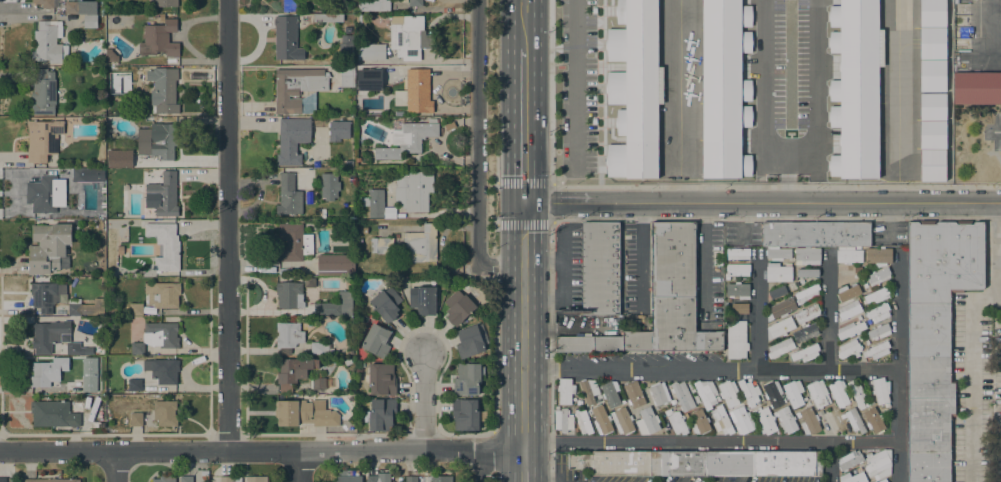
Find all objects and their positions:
building: (44, 3)
building: (415, 3)
building: (167, 4)
building: (286, 5)
building: (373, 5)
building: (71, 7)
airport hangar: (932, 13)
building: (932, 13)
building: (74, 17)
building: (327, 17)
building: (90, 21)
road: (522, 24)
building: (348, 30)
building: (409, 37)
building: (159, 38)
building: (286, 38)
building: (48, 41)
airport hangar: (932, 42)
building: (932, 42)
building: (345, 45)
building: (371, 52)
building: (110, 55)
building: (110, 71)
parking lot: (788, 71)
airport hangar: (932, 75)
building: (932, 75)
building: (347, 76)
building: (369, 79)
road: (766, 82)
road: (811, 84)
airport hangar: (720, 87)
building: (720, 87)
building: (976, 87)
airport hangar: (633, 88)
building: (633, 88)
airport hangar: (859, 88)
building: (859, 88)
building: (163, 89)
building: (298, 89)
parking lot: (587, 89)
airport: (751, 91)
building: (43, 92)
building: (415, 92)
airport hangar: (932, 105)
building: (932, 105)
road: (523, 126)
building: (338, 130)
road: (996, 130)
airport hangar: (932, 133)
building: (932, 133)
building: (42, 139)
building: (292, 139)
building: (407, 139)
building: (157, 140)
road: (477, 153)
building: (119, 158)
building: (101, 162)
building: (350, 163)
airport hangar: (932, 164)
building: (932, 164)
road: (495, 173)
building: (79, 174)
road: (786, 176)
building: (329, 185)
road: (683, 187)
building: (413, 190)
building: (44, 193)
building: (162, 195)
building: (288, 195)
building: (372, 202)
road: (761, 202)
traffic signals: (523, 203)
road: (552, 203)
road: (487, 223)
road: (228, 225)
building: (363, 229)
building: (815, 240)
building: (293, 242)
building: (421, 244)
building: (164, 245)
building: (381, 245)
road: (992, 245)
building: (48, 248)
building: (120, 249)
building: (737, 253)
building: (878, 256)
road: (706, 257)
building: (335, 265)
building: (599, 268)
building: (866, 268)
building: (736, 270)
building: (778, 272)
building: (806, 272)
road: (492, 274)
building: (878, 276)
road: (561, 277)
building: (309, 282)
building: (737, 290)
building: (777, 292)
building: (848, 292)
road: (995, 293)
building: (162, 294)
building: (806, 294)
building: (46, 295)
building: (289, 295)
building: (876, 296)
building: (422, 300)
building: (660, 301)
building: (386, 304)
building: (335, 306)
building: (84, 307)
building: (739, 308)
building: (780, 308)
building: (135, 309)
building: (726, 309)
building: (849, 309)
building: (459, 310)
road: (758, 311)
road: (829, 312)
building: (877, 312)
building: (806, 314)
road: (523, 326)
building: (779, 327)
building: (850, 329)
building: (878, 331)
building: (806, 332)
building: (288, 336)
building: (53, 337)
building: (157, 337)
building: (934, 337)
building: (735, 339)
building: (375, 340)
building: (470, 340)
building: (320, 348)
building: (779, 348)
building: (849, 349)
building: (876, 350)
building: (805, 353)
road: (494, 357)
road: (898, 368)
building: (162, 370)
road: (710, 370)
building: (292, 371)
building: (47, 372)
building: (88, 374)
road: (970, 378)
building: (381, 379)
building: (467, 379)
building: (318, 382)
building: (134, 384)
building: (564, 390)
building: (588, 390)
building: (880, 390)
building: (610, 393)
building: (658, 393)
building: (706, 393)
building: (728, 393)
building: (749, 393)
building: (773, 393)
building: (793, 393)
building: (817, 393)
building: (838, 393)
building: (634, 394)
building: (857, 394)
building: (681, 395)
road: (422, 403)
building: (304, 412)
building: (165, 413)
building: (464, 413)
building: (53, 414)
building: (380, 414)
building: (136, 419)
building: (649, 419)
building: (785, 419)
building: (563, 420)
building: (600, 420)
building: (622, 420)
building: (720, 420)
building: (740, 420)
building: (854, 420)
building: (873, 420)
building: (765, 421)
building: (809, 421)
building: (582, 422)
building: (676, 422)
building: (699, 422)
road: (487, 442)
road: (710, 442)
road: (261, 451)
building: (849, 460)
building: (698, 462)
road: (829, 462)
building: (878, 464)
road: (115, 466)
road: (300, 466)
road: (481, 466)
road: (523, 466)
building: (204, 472)
building: (348, 476)
building: (379, 477)
building: (852, 477)
building: (6, 479)
building: (164, 479)
building: (186, 479)
building: (230, 479)
building: (256, 479)
building: (411, 479)
building: (441, 479)
building: (51, 480)
building: (882, 480)
building: (874, 481)

